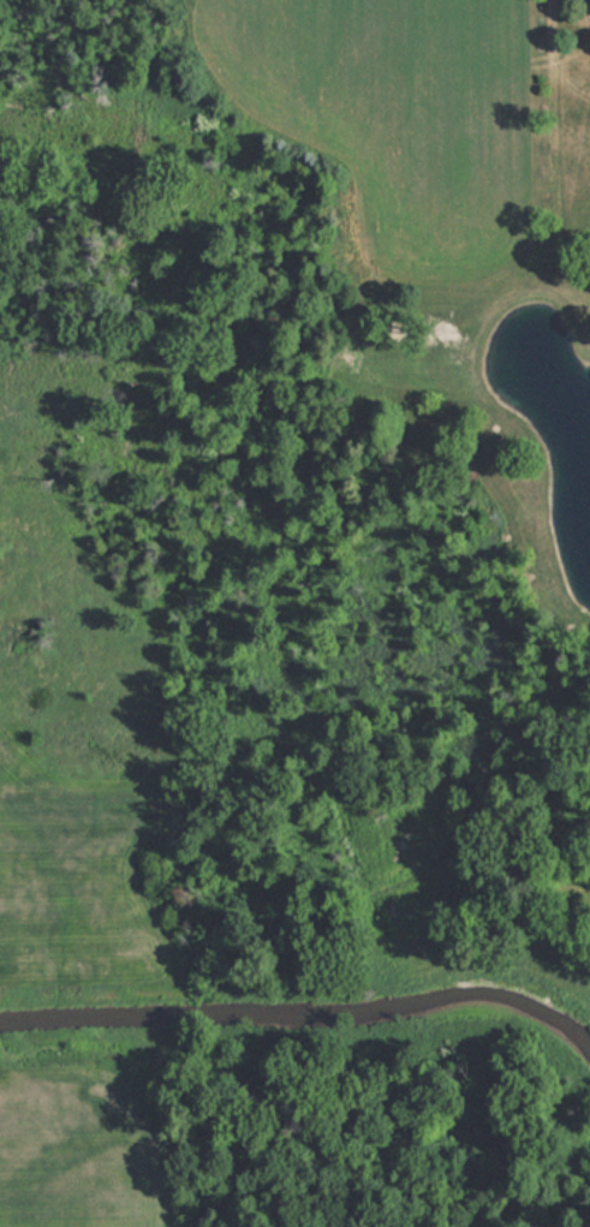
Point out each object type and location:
building: (589, 8)
river: (309, 1012)

